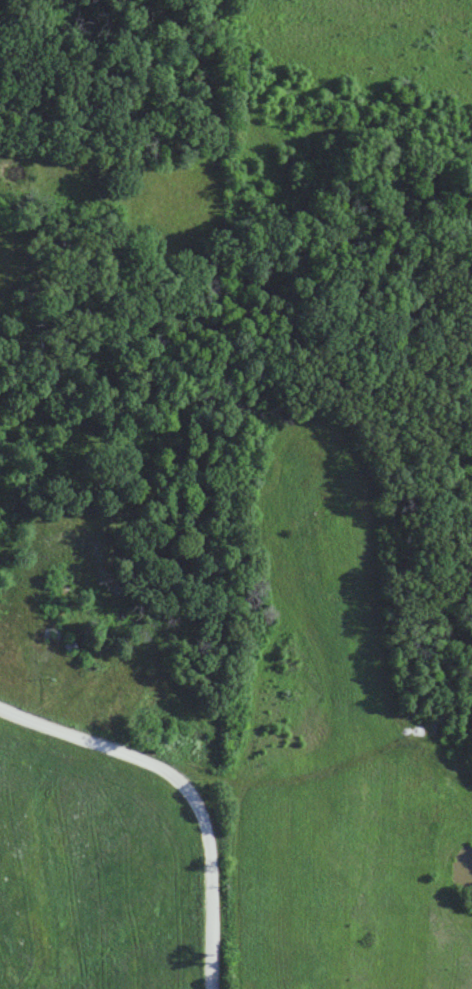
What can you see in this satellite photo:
building: (53, 613)
building: (181, 747)
road: (173, 818)

